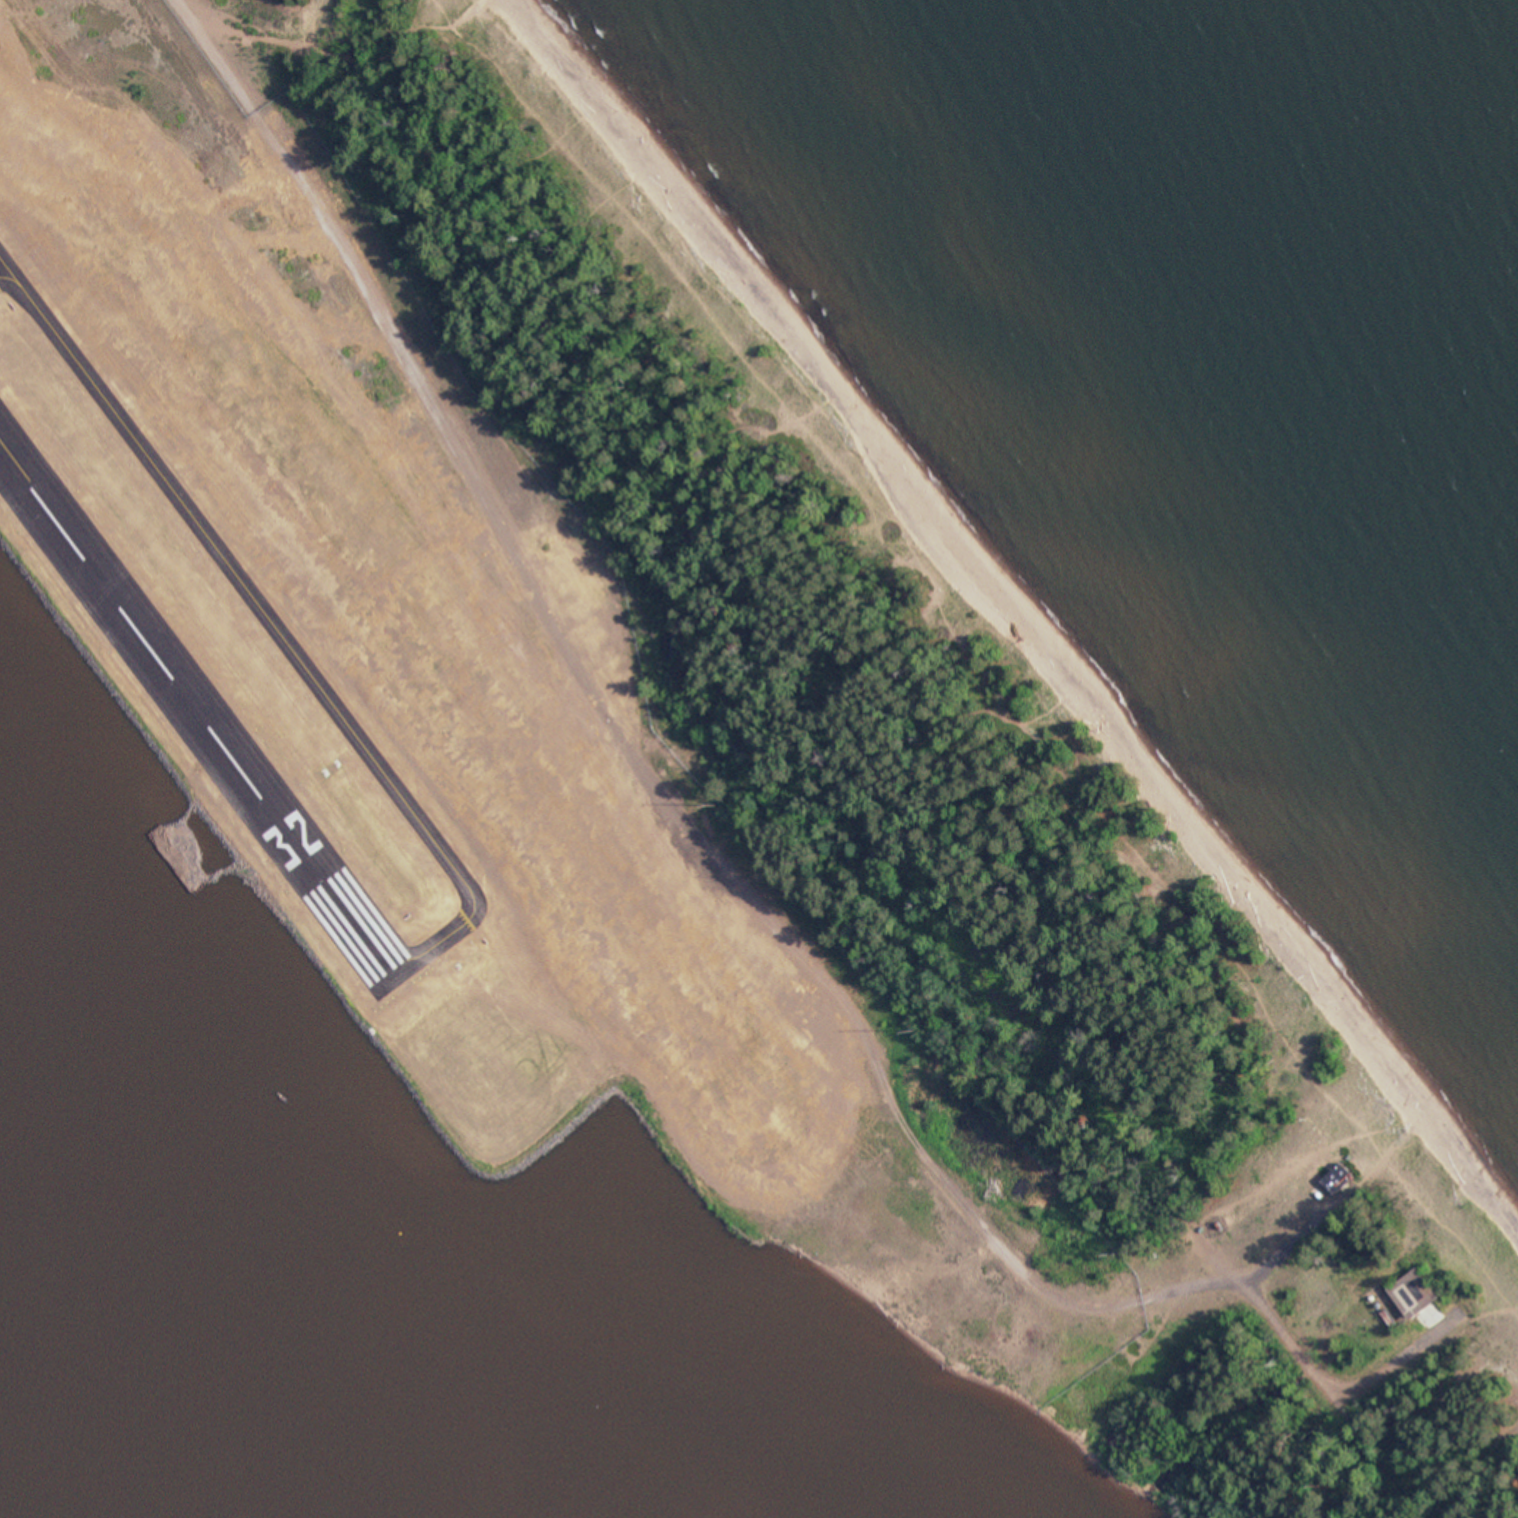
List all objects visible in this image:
airport taxiway: (3, 268)
airport taxiway: (271, 622)
airport runway: (200, 711)
airport: (449, 711)
road: (830, 716)
road: (722, 864)
building: (1336, 1179)
building: (1403, 1297)

